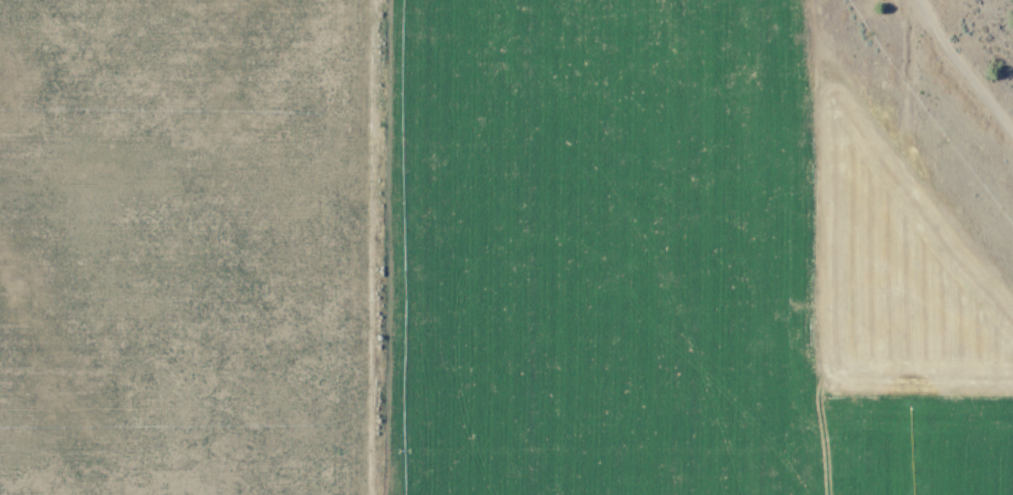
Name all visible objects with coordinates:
road: (962, 70)

